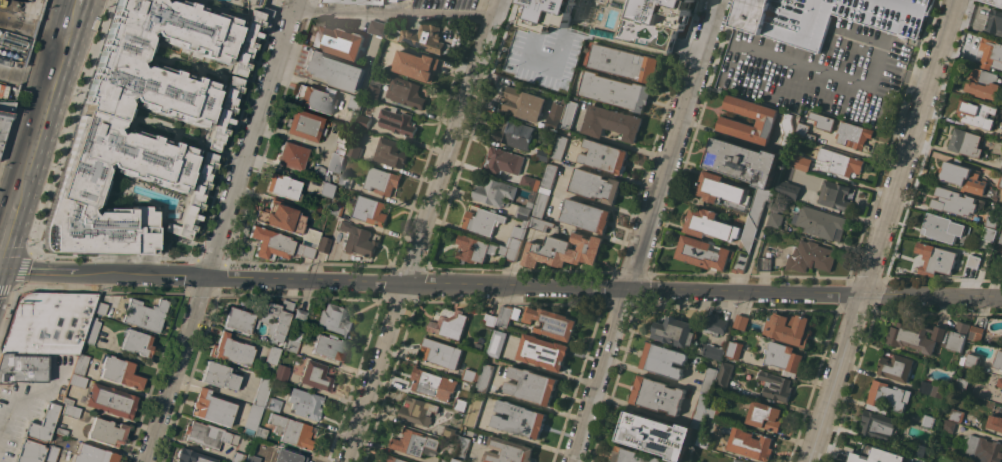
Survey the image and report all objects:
building: (395, 0)
building: (355, 1)
road: (74, 2)
building: (995, 2)
road: (296, 5)
road: (395, 14)
building: (827, 17)
building: (995, 21)
road: (32, 28)
building: (377, 28)
building: (418, 36)
building: (339, 41)
building: (246, 43)
building: (545, 44)
building: (232, 47)
building: (970, 49)
building: (990, 53)
building: (624, 62)
building: (416, 65)
building: (334, 70)
road: (24, 79)
building: (983, 82)
building: (615, 90)
building: (374, 91)
building: (405, 92)
building: (315, 99)
road: (44, 100)
building: (356, 102)
building: (523, 103)
building: (556, 113)
building: (978, 113)
building: (222, 114)
building: (569, 114)
building: (4, 118)
building: (822, 120)
building: (364, 121)
building: (397, 121)
building: (731, 121)
building: (611, 122)
building: (306, 125)
building: (98, 127)
building: (804, 131)
building: (515, 133)
building: (786, 133)
building: (855, 134)
road: (610, 140)
building: (965, 142)
building: (342, 143)
building: (560, 144)
building: (355, 151)
building: (390, 152)
building: (543, 154)
building: (292, 156)
building: (604, 156)
building: (504, 160)
building: (743, 161)
building: (840, 161)
building: (803, 163)
building: (329, 167)
building: (1001, 167)
building: (549, 175)
road: (617, 176)
building: (963, 176)
building: (382, 180)
building: (345, 181)
building: (529, 181)
building: (1000, 182)
building: (595, 184)
road: (8, 187)
building: (284, 187)
building: (721, 189)
building: (789, 189)
building: (327, 190)
building: (494, 191)
building: (835, 195)
building: (193, 199)
road: (594, 200)
building: (953, 201)
building: (541, 202)
building: (335, 209)
building: (368, 209)
building: (525, 211)
building: (586, 215)
building: (756, 215)
building: (281, 217)
building: (775, 219)
building: (483, 220)
building: (992, 220)
road: (7, 221)
building: (820, 221)
building: (540, 223)
building: (710, 224)
building: (942, 227)
road: (584, 229)
road: (423, 230)
road: (645, 231)
road: (884, 231)
building: (988, 233)
building: (311, 235)
building: (517, 235)
road: (220, 236)
building: (1001, 238)
building: (357, 239)
building: (271, 243)
building: (324, 245)
road: (753, 247)
building: (472, 248)
building: (563, 249)
building: (305, 250)
building: (508, 252)
road: (520, 252)
building: (703, 252)
building: (810, 256)
building: (935, 258)
building: (740, 261)
building: (973, 261)
building: (764, 263)
road: (501, 285)
building: (99, 308)
building: (507, 314)
building: (145, 315)
building: (300, 316)
building: (262, 319)
building: (334, 319)
building: (490, 319)
building: (551, 322)
building: (745, 322)
building: (49, 323)
building: (450, 323)
building: (714, 324)
building: (788, 329)
building: (91, 330)
building: (674, 331)
building: (976, 333)
building: (915, 336)
building: (958, 336)
building: (497, 342)
building: (137, 343)
building: (293, 343)
building: (328, 347)
building: (735, 349)
building: (231, 350)
building: (543, 351)
building: (714, 351)
building: (441, 352)
building: (272, 355)
building: (784, 357)
building: (663, 359)
building: (971, 360)
building: (999, 360)
building: (80, 365)
building: (895, 366)
building: (23, 367)
building: (121, 373)
building: (282, 373)
building: (471, 375)
building: (725, 375)
building: (221, 376)
building: (316, 376)
building: (484, 376)
building: (710, 379)
building: (77, 381)
building: (1000, 381)
building: (429, 382)
building: (532, 385)
building: (776, 385)
building: (931, 388)
building: (741, 390)
building: (976, 390)
building: (262, 391)
road: (28, 393)
building: (658, 395)
building: (887, 396)
building: (67, 401)
building: (111, 401)
road: (528, 401)
building: (460, 404)
building: (274, 405)
building: (307, 406)
road: (637, 407)
building: (715, 408)
building: (212, 409)
building: (475, 409)
building: (70, 411)
building: (419, 411)
building: (700, 411)
building: (764, 415)
building: (957, 415)
building: (520, 419)
building: (252, 420)
building: (928, 420)
road: (2, 422)
building: (995, 422)
building: (43, 424)
building: (878, 424)
building: (948, 425)
building: (61, 431)
building: (292, 431)
building: (107, 432)
building: (450, 433)
building: (260, 434)
road: (516, 435)
building: (656, 435)
building: (209, 436)
building: (704, 439)
building: (414, 442)
building: (750, 443)
building: (462, 447)
building: (981, 448)
building: (919, 449)
building: (508, 451)
building: (30, 452)
building: (869, 452)
building: (51, 454)
building: (93, 455)
building: (633, 455)
building: (192, 456)
building: (285, 456)
building: (239, 457)
building: (251, 459)
building: (395, 459)
building: (458, 459)
building: (445, 460)
building: (738, 460)

